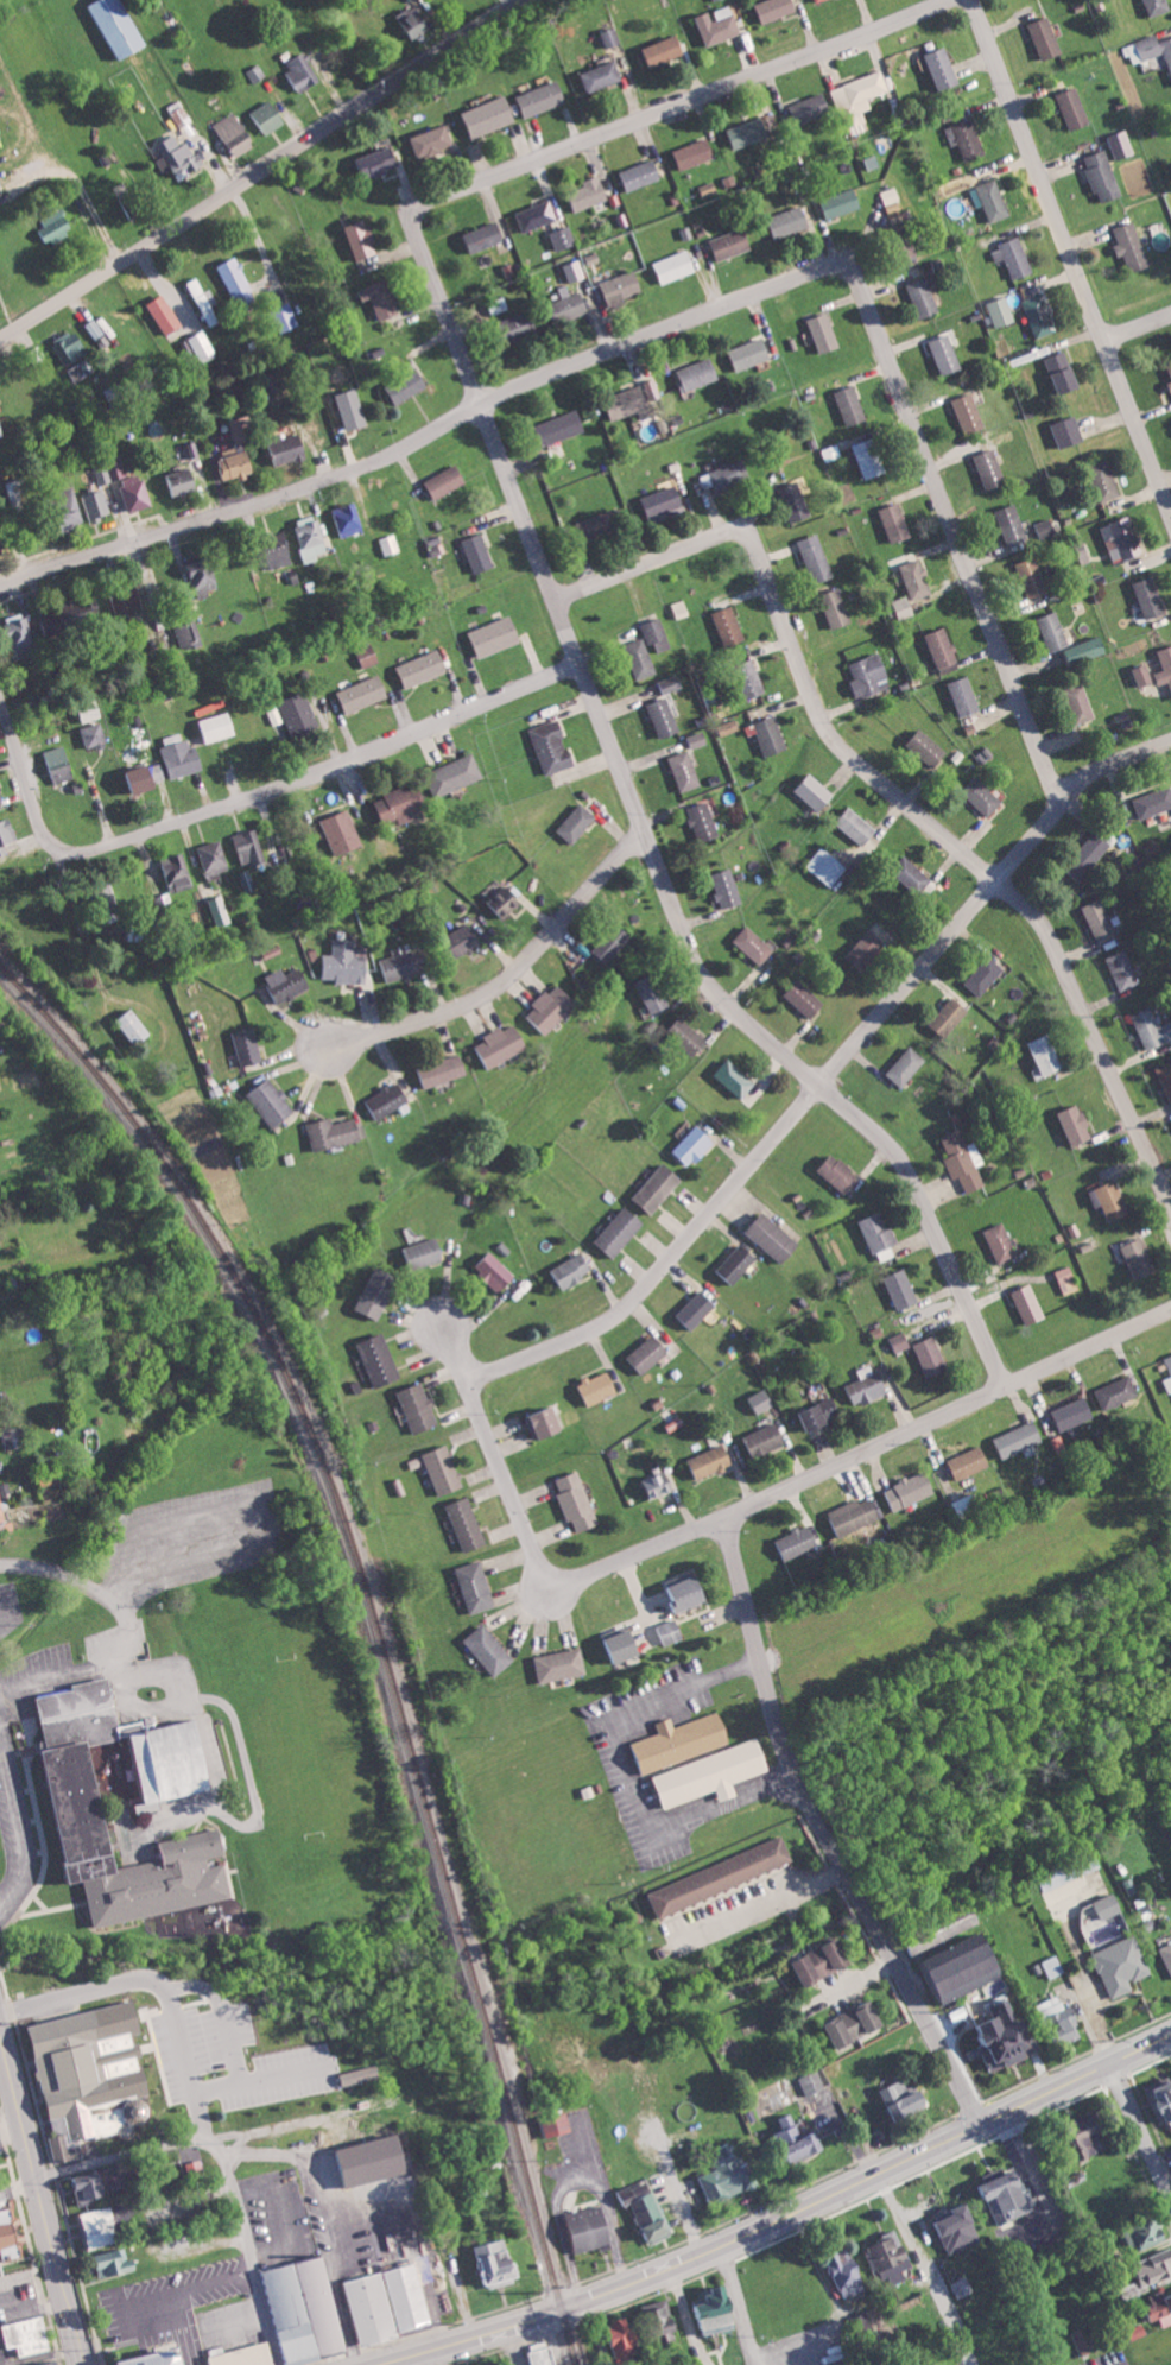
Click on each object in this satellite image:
building: (412, 0)
building: (819, 0)
building: (1158, 6)
building: (776, 8)
building: (170, 18)
building: (417, 20)
building: (719, 25)
building: (121, 26)
building: (610, 37)
building: (1046, 38)
building: (1147, 49)
building: (663, 51)
building: (945, 69)
building: (303, 71)
building: (257, 74)
building: (602, 76)
building: (859, 93)
building: (540, 99)
building: (810, 108)
building: (1074, 108)
building: (178, 110)
building: (270, 115)
building: (488, 116)
building: (749, 133)
building: (236, 134)
building: (967, 138)
building: (431, 141)
building: (1122, 144)
building: (694, 153)
building: (181, 156)
building: (379, 162)
road: (264, 166)
building: (641, 175)
building: (1103, 177)
building: (708, 189)
building: (589, 192)
building: (994, 200)
building: (842, 203)
building: (539, 215)
building: (790, 222)
building: (57, 227)
building: (903, 229)
building: (485, 236)
building: (563, 238)
building: (361, 240)
building: (732, 244)
building: (1132, 247)
building: (0, 253)
road: (1072, 254)
building: (1014, 258)
building: (676, 266)
building: (575, 271)
building: (236, 282)
building: (621, 287)
building: (925, 297)
building: (382, 299)
building: (570, 304)
building: (1001, 311)
building: (165, 315)
building: (1039, 315)
road: (691, 320)
building: (523, 324)
building: (94, 329)
road: (1139, 329)
building: (825, 333)
building: (201, 346)
building: (70, 347)
building: (751, 354)
building: (947, 355)
building: (1169, 372)
building: (1063, 373)
building: (698, 374)
building: (409, 386)
building: (627, 403)
building: (852, 405)
building: (352, 410)
building: (969, 413)
building: (563, 426)
building: (242, 429)
building: (1, 431)
building: (1068, 431)
building: (289, 447)
building: (831, 453)
building: (871, 459)
building: (236, 466)
building: (990, 469)
building: (110, 472)
building: (732, 475)
building: (1104, 480)
building: (448, 481)
building: (135, 492)
building: (17, 494)
building: (663, 501)
building: (796, 502)
building: (97, 505)
building: (349, 519)
building: (897, 523)
building: (1012, 524)
building: (600, 525)
building: (1046, 527)
building: (1126, 537)
building: (310, 538)
building: (2, 544)
building: (391, 545)
building: (480, 554)
building: (283, 556)
building: (817, 558)
road: (543, 570)
building: (204, 573)
building: (1032, 577)
building: (917, 580)
building: (1150, 597)
building: (127, 601)
building: (904, 607)
building: (679, 608)
building: (836, 608)
building: (80, 615)
building: (730, 626)
building: (1053, 632)
building: (24, 634)
building: (189, 634)
building: (658, 634)
building: (498, 635)
building: (942, 647)
building: (1087, 650)
building: (643, 658)
building: (1165, 666)
building: (423, 668)
building: (871, 675)
building: (1142, 675)
building: (672, 682)
building: (753, 682)
building: (363, 694)
building: (964, 695)
building: (1081, 702)
building: (300, 714)
building: (665, 716)
building: (219, 726)
building: (729, 726)
building: (95, 733)
building: (771, 735)
building: (698, 739)
building: (553, 746)
building: (926, 747)
building: (184, 758)
building: (62, 764)
road: (319, 764)
building: (685, 770)
building: (456, 773)
building: (146, 776)
road: (24, 778)
building: (816, 791)
road: (892, 791)
building: (982, 796)
building: (1, 801)
building: (1153, 801)
building: (403, 803)
building: (704, 821)
building: (578, 822)
building: (857, 824)
building: (343, 831)
building: (7, 834)
building: (252, 846)
building: (1088, 855)
building: (215, 856)
building: (827, 866)
building: (177, 872)
building: (913, 877)
building: (727, 887)
building: (506, 904)
building: (221, 910)
building: (1100, 918)
road: (954, 929)
building: (466, 937)
building: (613, 942)
building: (753, 944)
building: (866, 949)
building: (344, 962)
building: (406, 963)
building: (1123, 969)
road: (508, 974)
building: (985, 975)
building: (289, 982)
building: (653, 993)
building: (804, 998)
building: (552, 1008)
building: (949, 1016)
building: (137, 1025)
building: (1152, 1027)
building: (689, 1035)
building: (502, 1044)
building: (248, 1045)
building: (1047, 1054)
building: (906, 1065)
building: (442, 1070)
building: (735, 1077)
building: (1166, 1077)
building: (387, 1101)
building: (272, 1102)
building: (1075, 1124)
building: (335, 1132)
building: (694, 1145)
building: (964, 1159)
building: (840, 1174)
building: (657, 1188)
building: (1112, 1199)
building: (619, 1231)
building: (880, 1237)
building: (773, 1238)
building: (1001, 1242)
building: (424, 1252)
building: (1140, 1258)
building: (738, 1263)
building: (572, 1270)
building: (495, 1271)
building: (1068, 1279)
building: (901, 1289)
building: (378, 1291)
road: (640, 1292)
building: (1030, 1304)
building: (697, 1309)
building: (899, 1342)
road: (457, 1352)
building: (650, 1353)
building: (931, 1357)
building: (379, 1360)
building: (1169, 1361)
building: (1169, 1383)
building: (865, 1385)
building: (600, 1387)
building: (1118, 1392)
building: (762, 1400)
building: (418, 1408)
building: (1075, 1412)
building: (822, 1414)
road: (947, 1415)
building: (546, 1422)
building: (1020, 1438)
building: (765, 1440)
building: (970, 1462)
building: (442, 1469)
building: (659, 1485)
building: (910, 1491)
building: (577, 1501)
building: (966, 1503)
building: (1, 1509)
building: (856, 1513)
building: (468, 1524)
building: (798, 1542)
road: (540, 1562)
road: (89, 1586)
building: (476, 1587)
building: (690, 1591)
railway: (376, 1623)
building: (670, 1631)
building: (622, 1644)
building: (489, 1649)
building: (561, 1664)
road: (56, 1675)
building: (713, 1773)
road: (632, 1776)
building: (71, 1801)
road: (825, 1830)
road: (15, 1835)
building: (722, 1877)
building: (1059, 1878)
building: (1107, 1905)
building: (1166, 1956)
building: (824, 1961)
building: (1052, 1966)
building: (1121, 1966)
building: (964, 1968)
road: (158, 1984)
building: (856, 2024)
building: (1008, 2038)
building: (360, 2075)
building: (93, 2076)
building: (814, 2085)
building: (905, 2097)
building: (557, 2125)
road: (1141, 2126)
building: (1093, 2135)
building: (799, 2139)
road: (124, 2154)
building: (336, 2170)
building: (386, 2173)
building: (729, 2180)
building: (99, 2182)
road: (18, 2186)
building: (1007, 2195)
road: (40, 2201)
building: (647, 2209)
road: (774, 2217)
building: (99, 2227)
building: (590, 2228)
building: (961, 2228)
building: (1146, 2233)
building: (12, 2236)
road: (248, 2252)
building: (890, 2258)
building: (115, 2263)
building: (500, 2263)
building: (1154, 2266)
building: (849, 2276)
building: (963, 2287)
road: (738, 2303)
building: (390, 2306)
building: (1161, 2306)
building: (308, 2310)
building: (715, 2310)
building: (664, 2322)
building: (29, 2335)
building: (626, 2339)
building: (1082, 2342)
building: (543, 2354)
building: (247, 2355)
building: (164, 2359)
building: (57, 2364)

